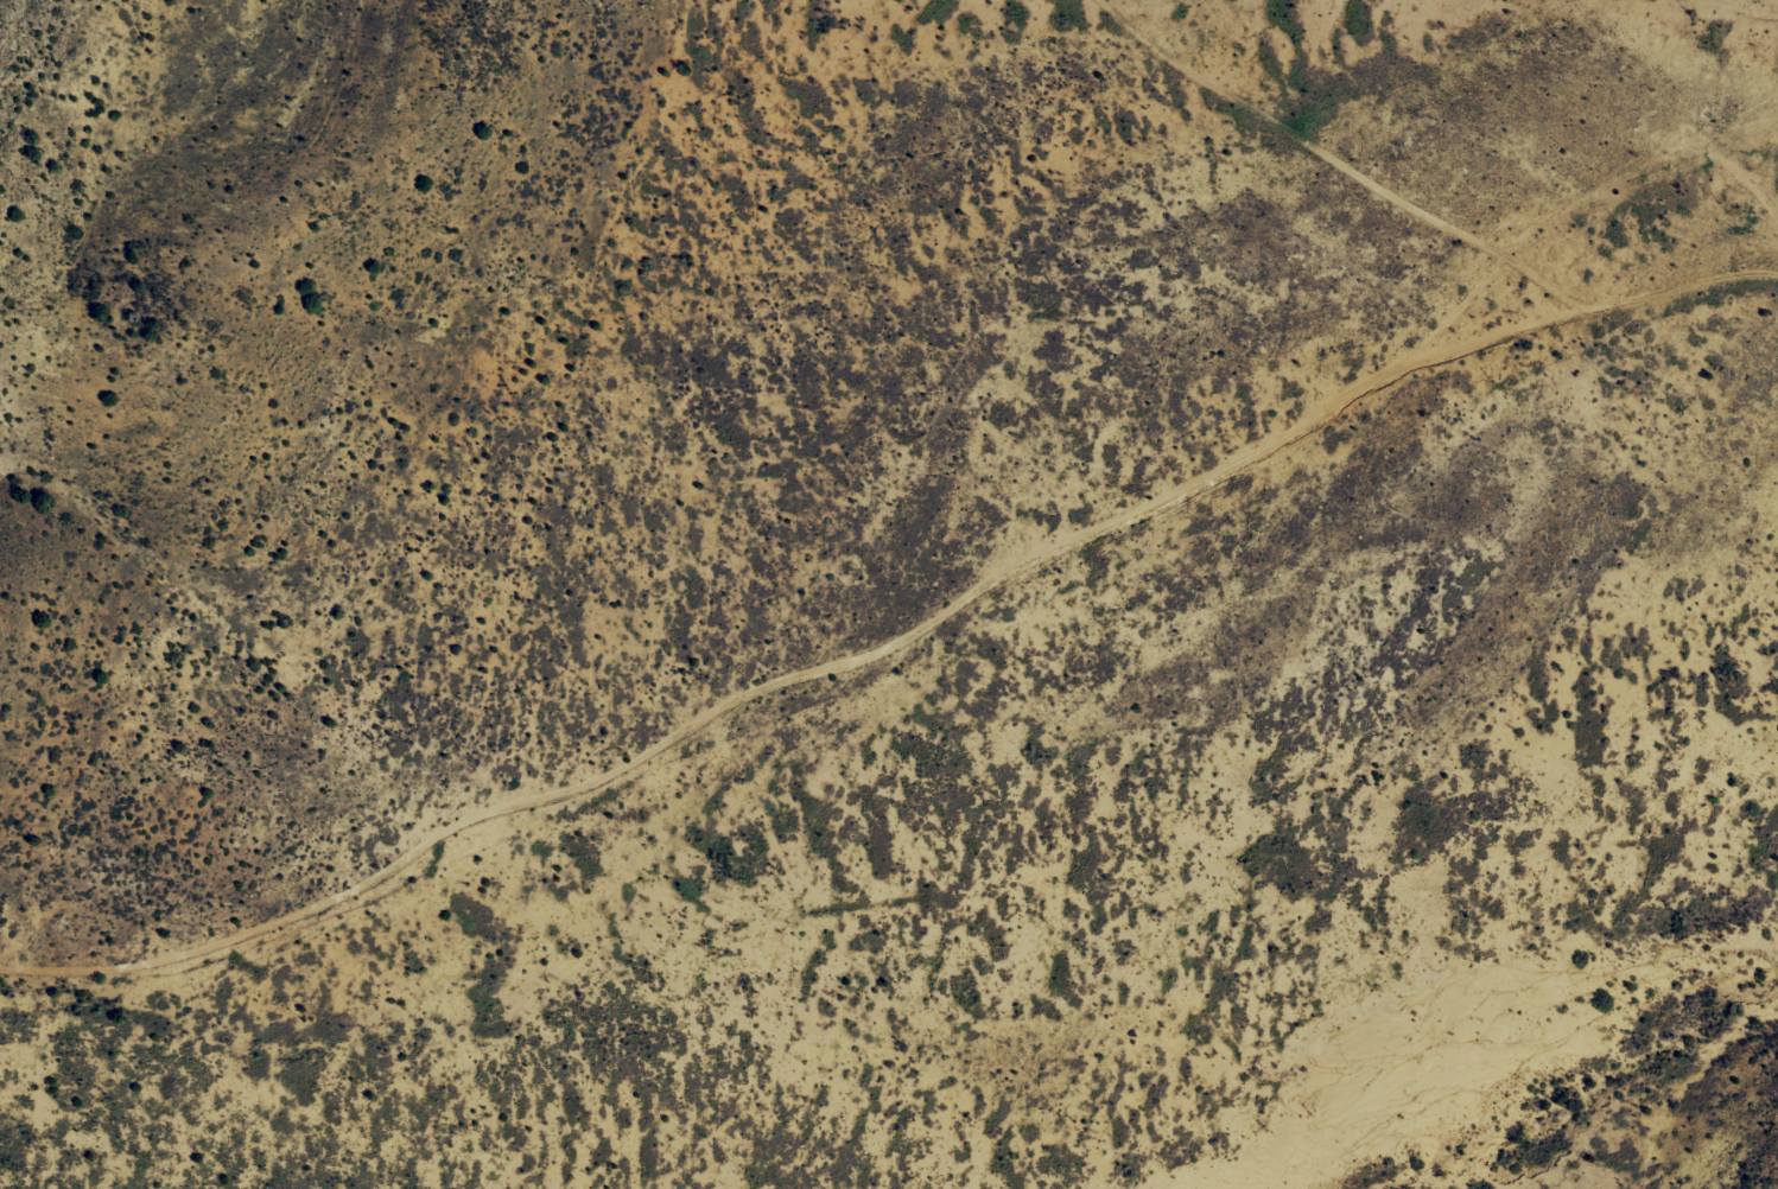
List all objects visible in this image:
road: (1757, 350)
road: (890, 649)

